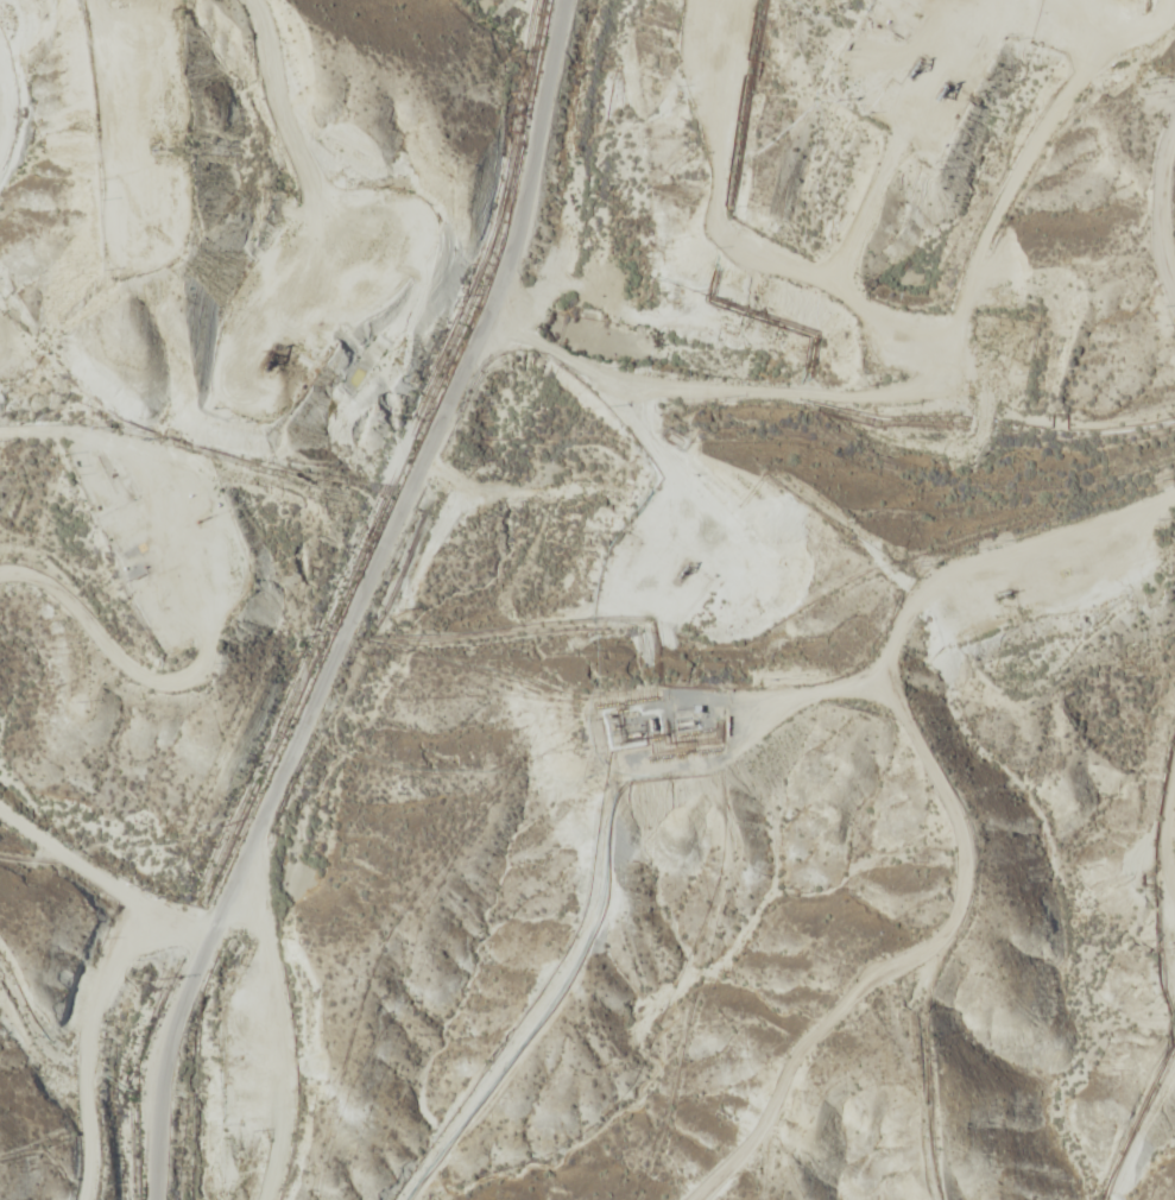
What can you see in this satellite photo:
road: (324, 593)
road: (863, 787)
road: (76, 885)
road: (53, 1003)
road: (4, 1156)

